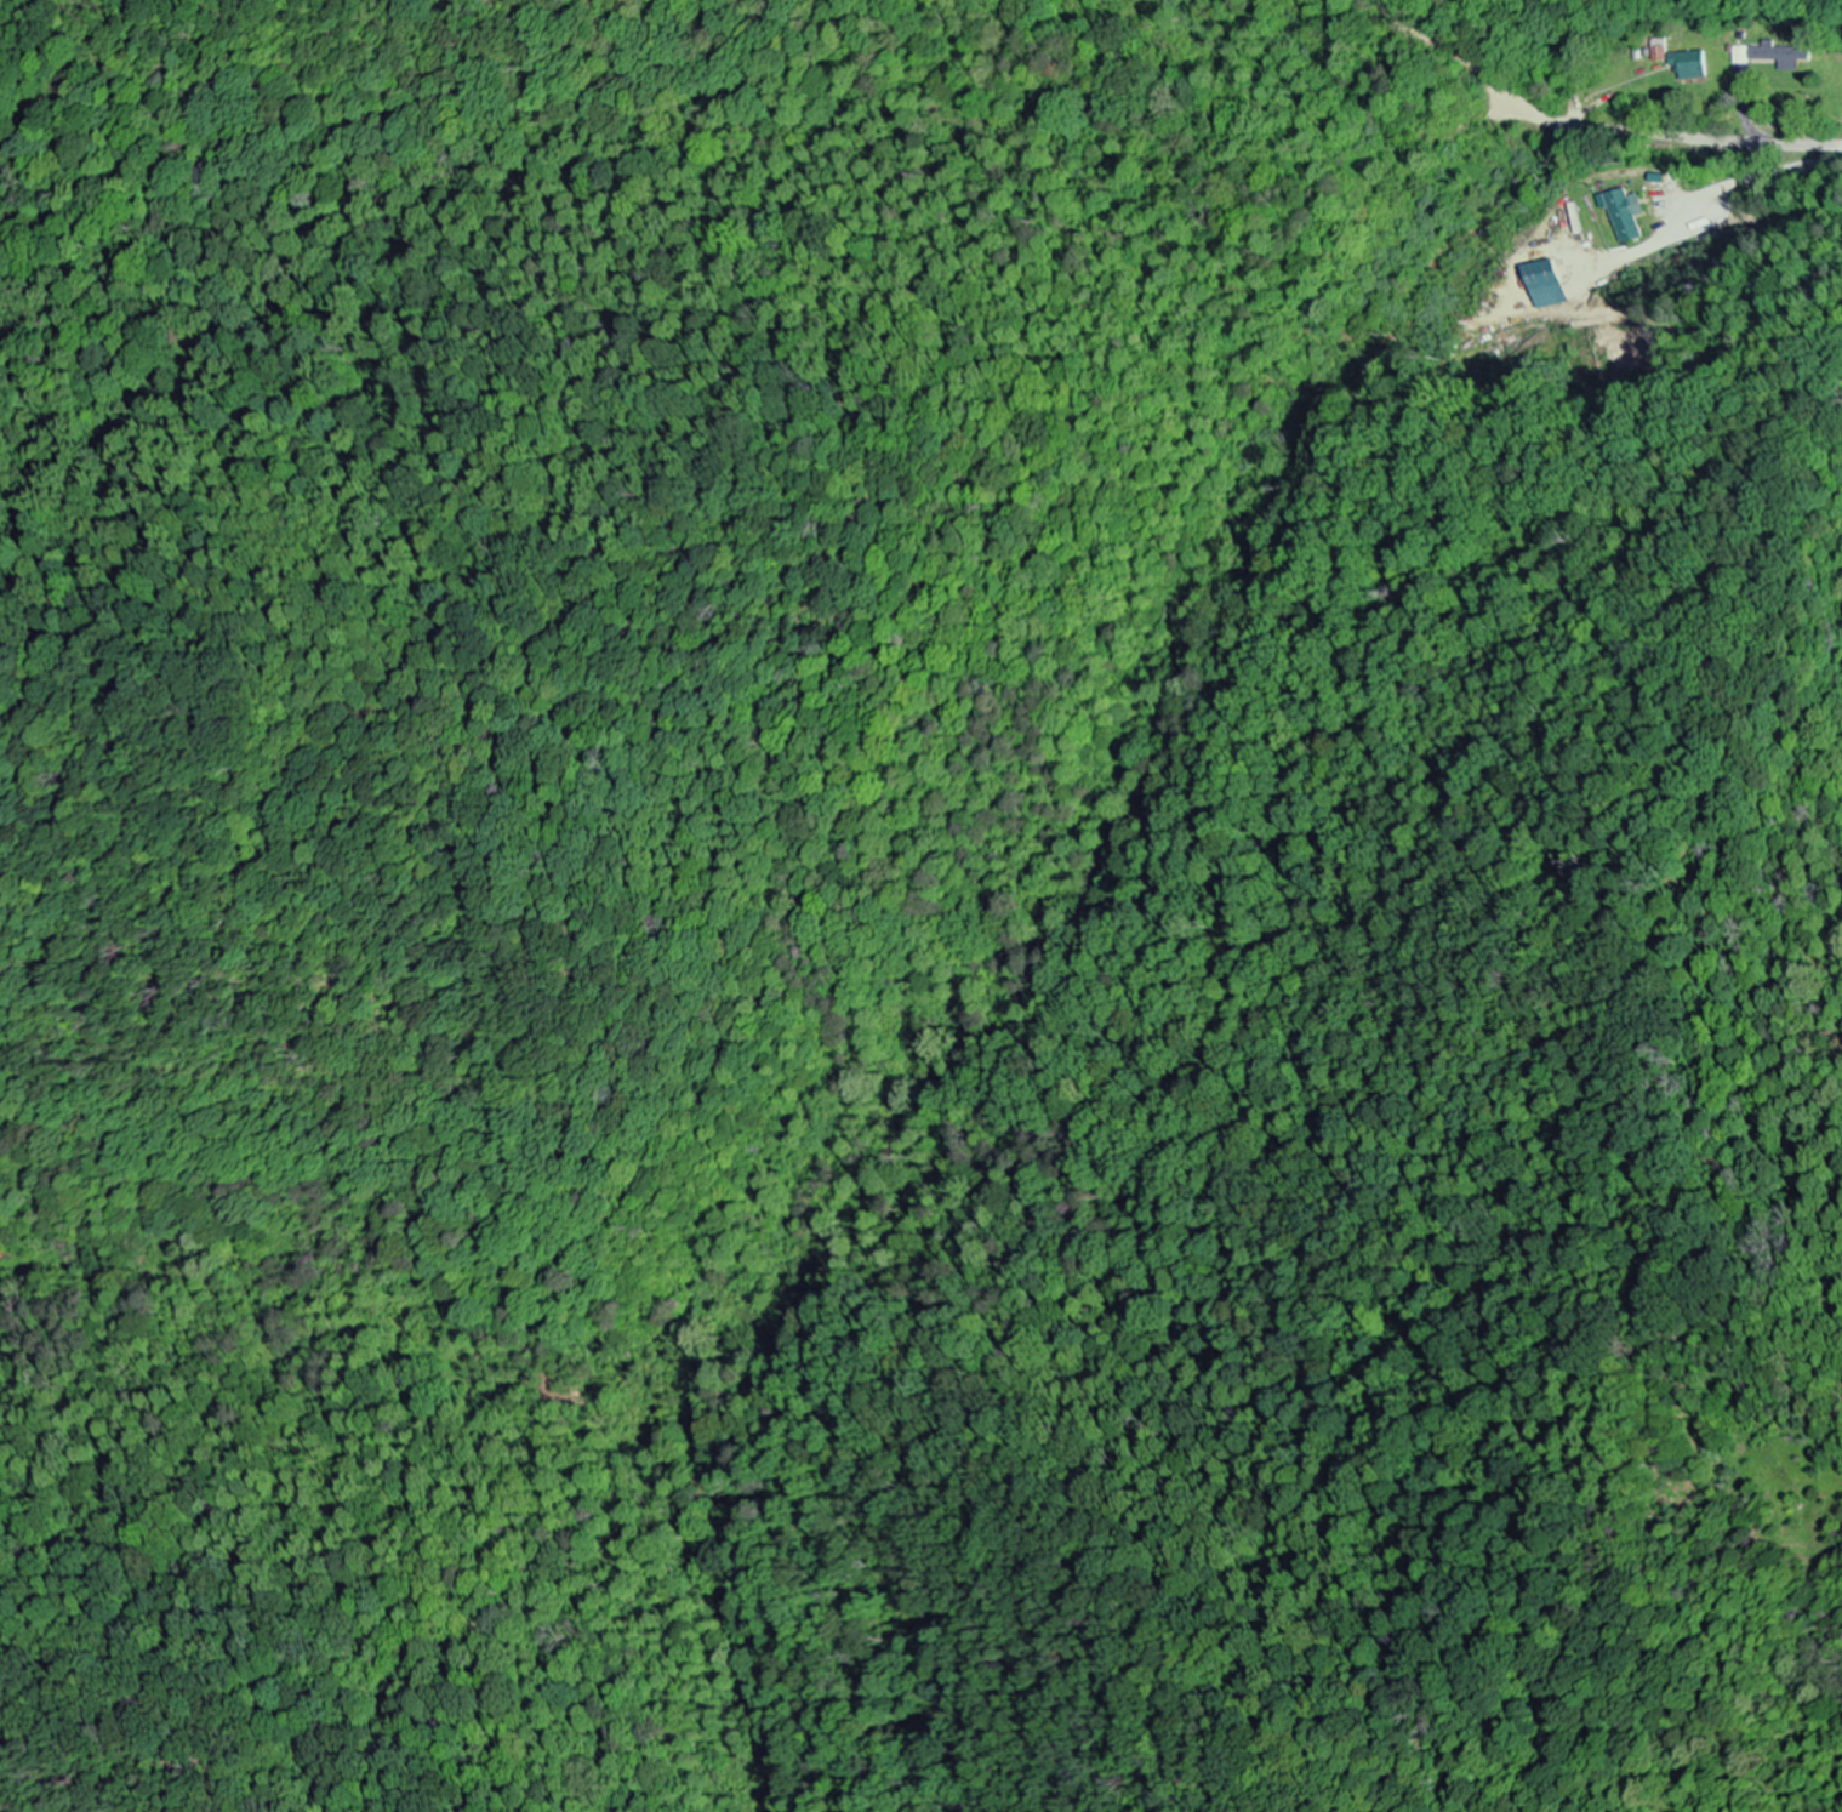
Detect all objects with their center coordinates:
road: (1416, 39)
building: (1660, 53)
building: (1772, 56)
building: (1690, 64)
road: (1648, 136)
building: (1630, 213)
building: (1551, 284)

